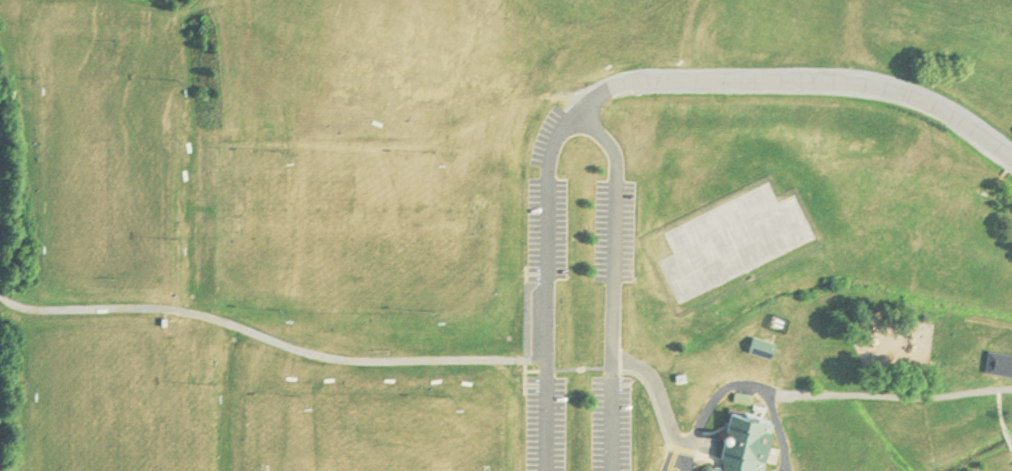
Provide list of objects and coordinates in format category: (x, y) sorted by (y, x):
road: (4, 3)
road: (196, 34)
road: (799, 83)
road: (580, 117)
park: (103, 150)
park: (356, 223)
park: (506, 235)
parking lot: (579, 293)
building: (754, 347)
road: (359, 360)
building: (999, 363)
road: (829, 396)
building: (750, 406)
park: (115, 412)
road: (1001, 419)
road: (782, 434)
park: (368, 435)
road: (1008, 437)
building: (744, 443)
road: (673, 460)
road: (686, 461)

